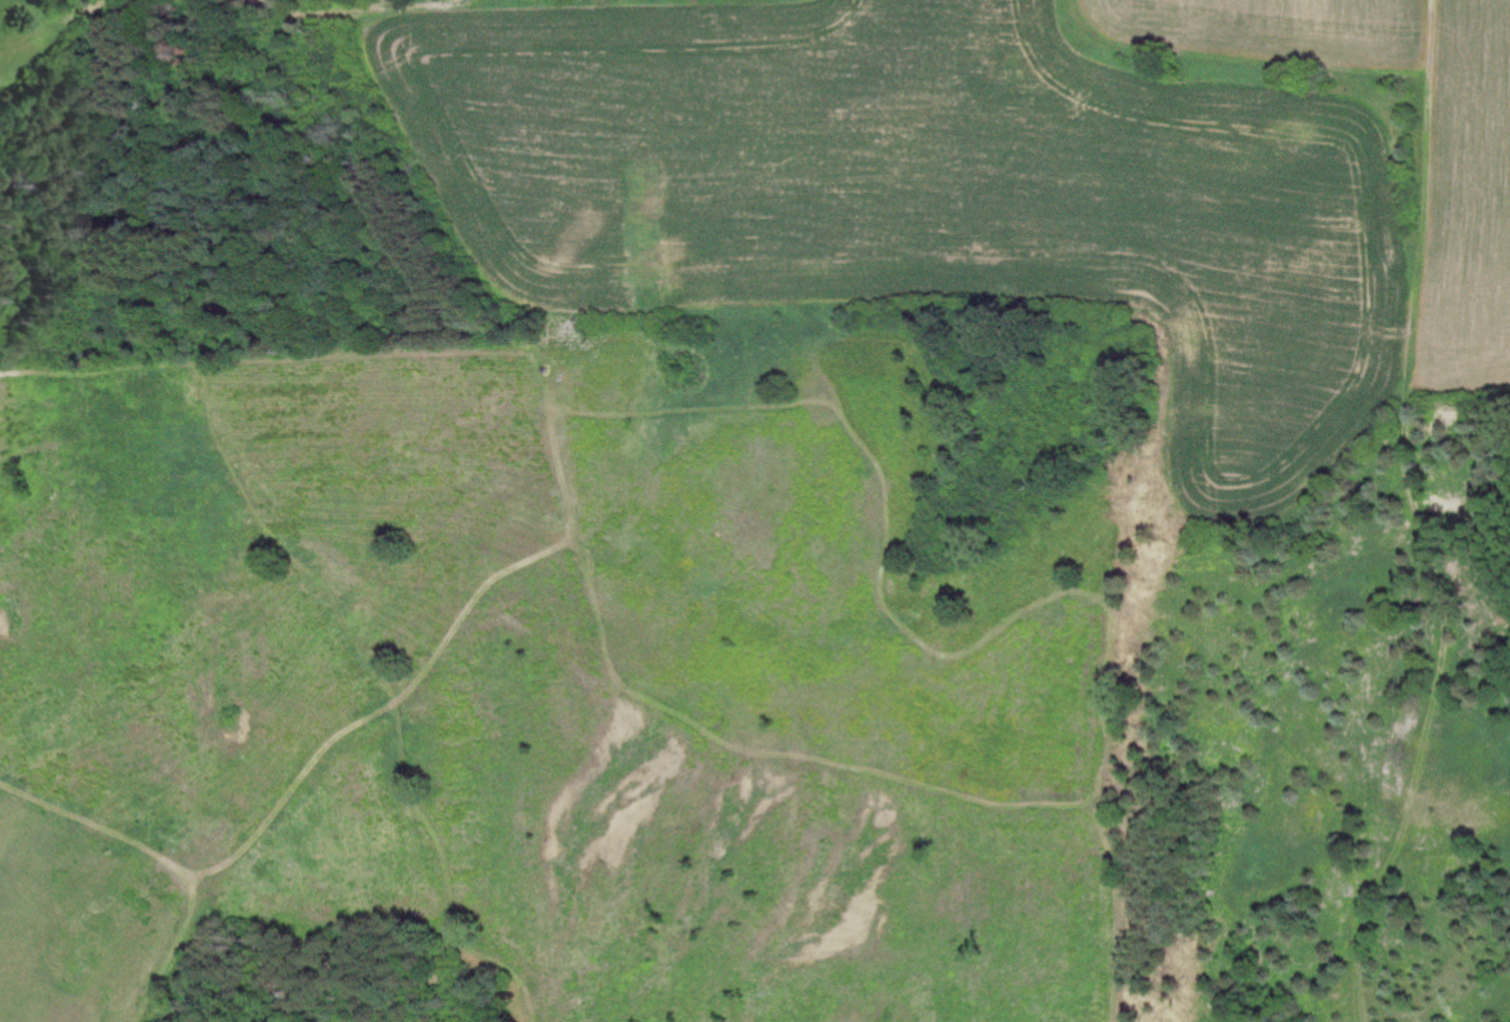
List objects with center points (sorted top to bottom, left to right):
crop: (571, 169)
crop: (1320, 257)
road: (294, 359)
road: (1416, 518)
road: (278, 542)
road: (1092, 594)
road: (471, 604)
road: (291, 788)
road: (98, 826)
road: (445, 875)
road: (1117, 912)
road: (172, 950)

